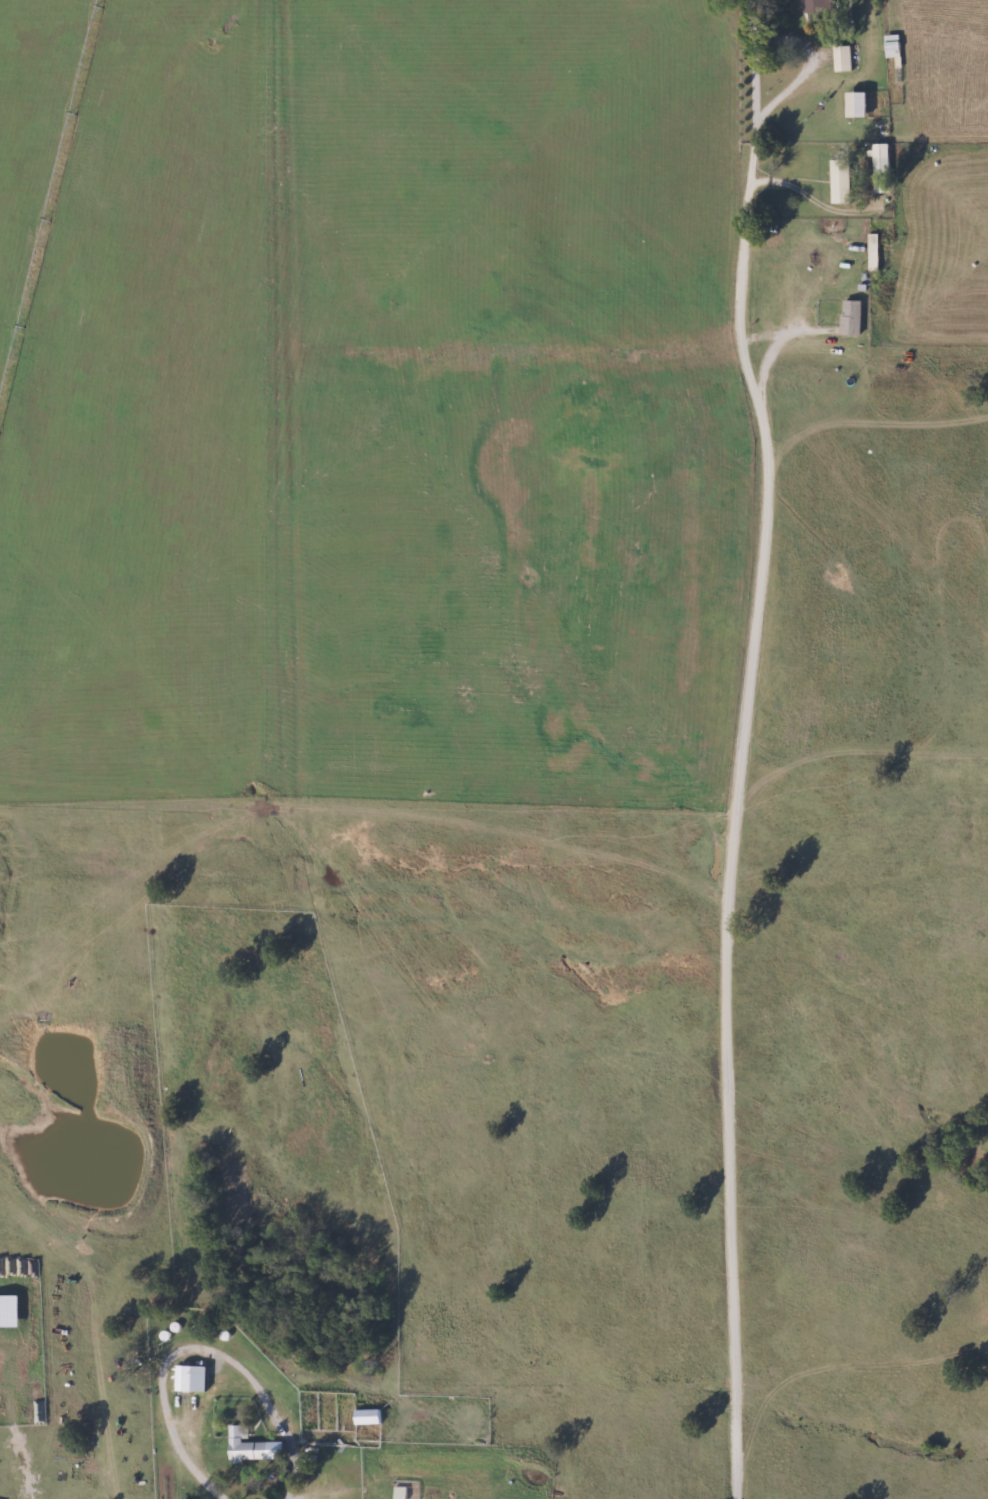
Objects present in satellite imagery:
building: (817, 7)
building: (892, 46)
building: (842, 58)
road: (804, 72)
building: (859, 104)
building: (882, 167)
building: (842, 180)
road: (749, 198)
building: (873, 252)
building: (851, 317)
road: (730, 884)
road: (197, 1350)
road: (66, 1362)
building: (192, 1378)
building: (368, 1414)
building: (246, 1446)
building: (400, 1493)

